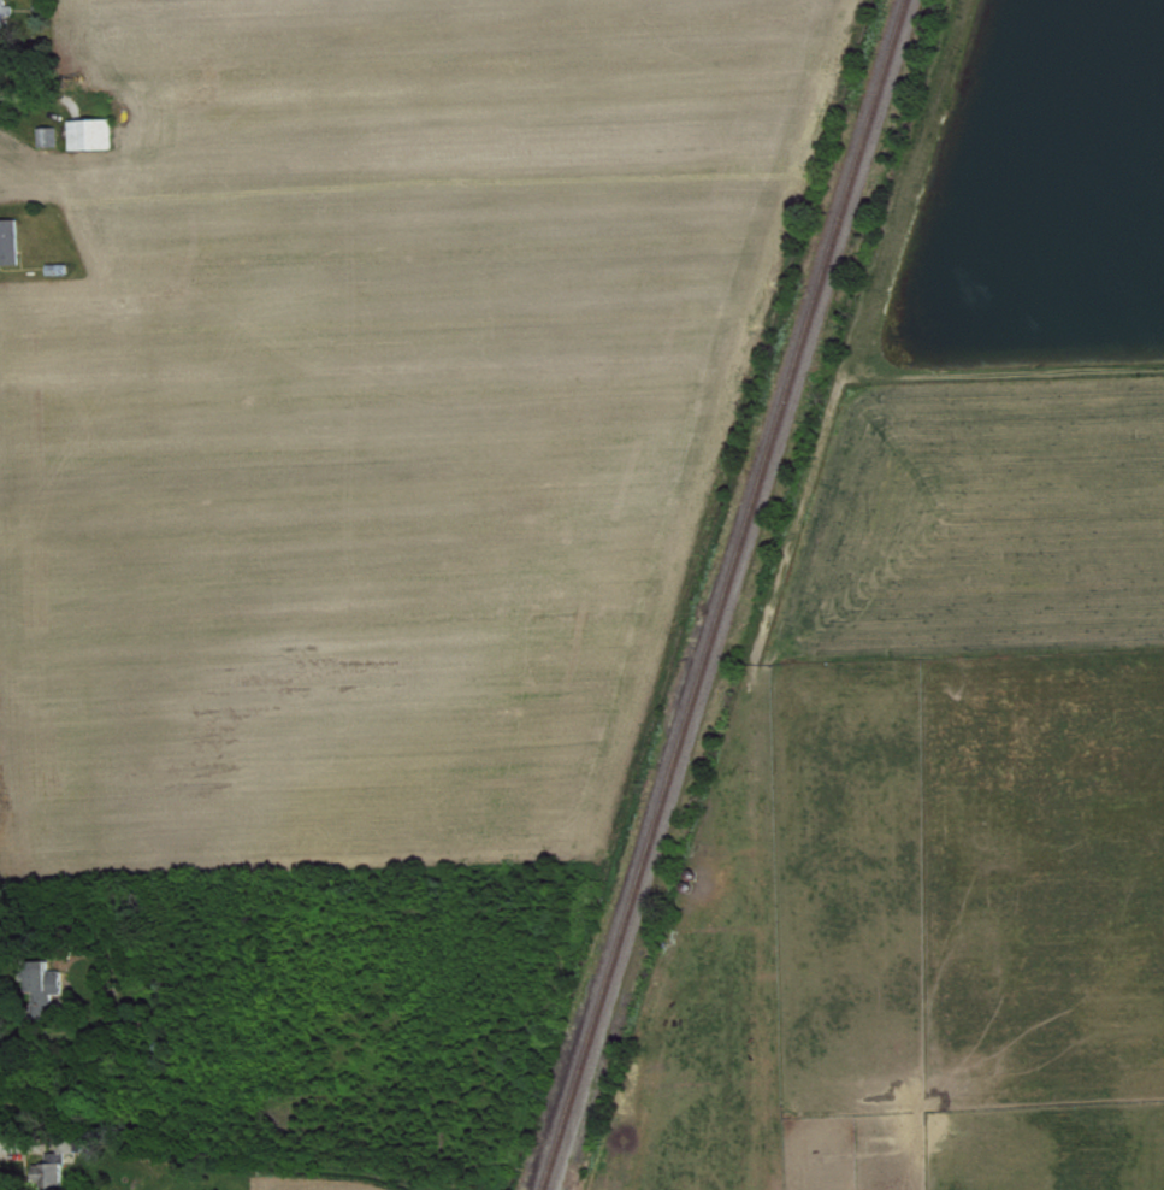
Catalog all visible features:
building: (8, 17)
building: (98, 139)
building: (53, 142)
building: (13, 246)
railway: (726, 595)
building: (49, 995)
building: (77, 1150)
building: (55, 1179)

